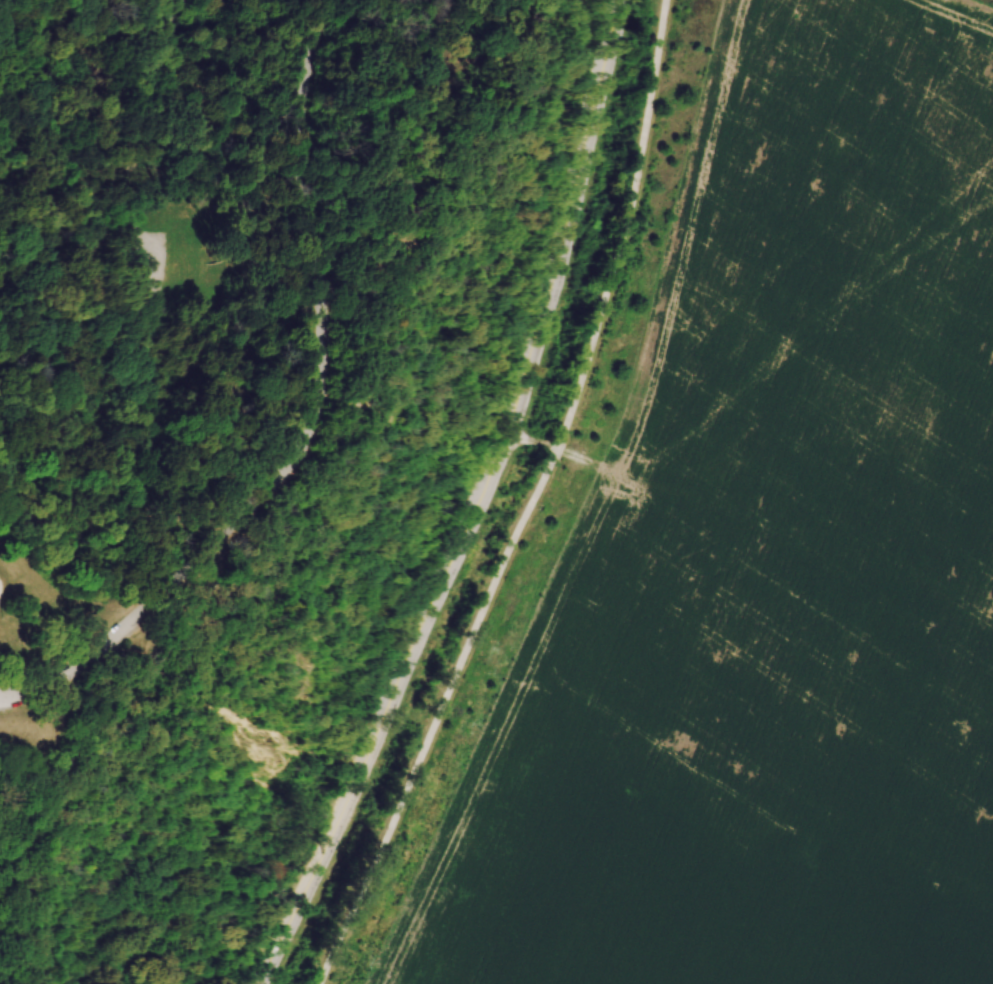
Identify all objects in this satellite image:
road: (75, 83)
road: (384, 141)
road: (156, 147)
road: (252, 173)
road: (623, 227)
park: (264, 230)
parking lot: (154, 264)
road: (230, 331)
road: (109, 404)
road: (301, 415)
park: (240, 423)
road: (154, 432)
road: (558, 449)
road: (482, 504)
road: (148, 513)
road: (163, 660)
parking lot: (10, 697)
road: (58, 715)
road: (437, 716)
road: (14, 764)
road: (19, 873)

